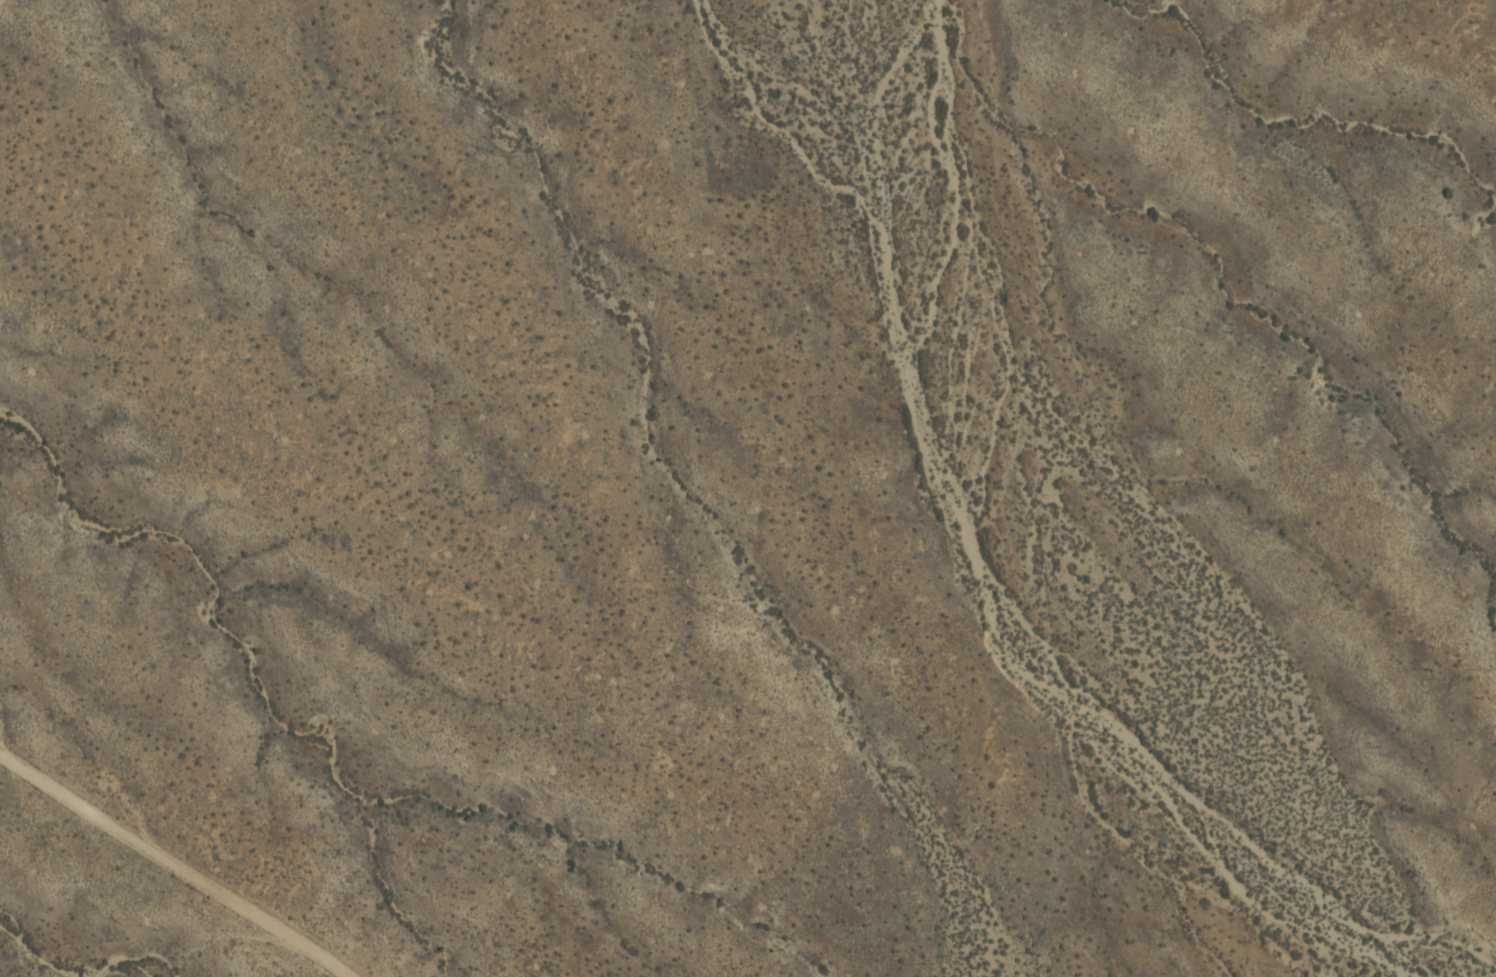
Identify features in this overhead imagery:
road: (204, 870)

